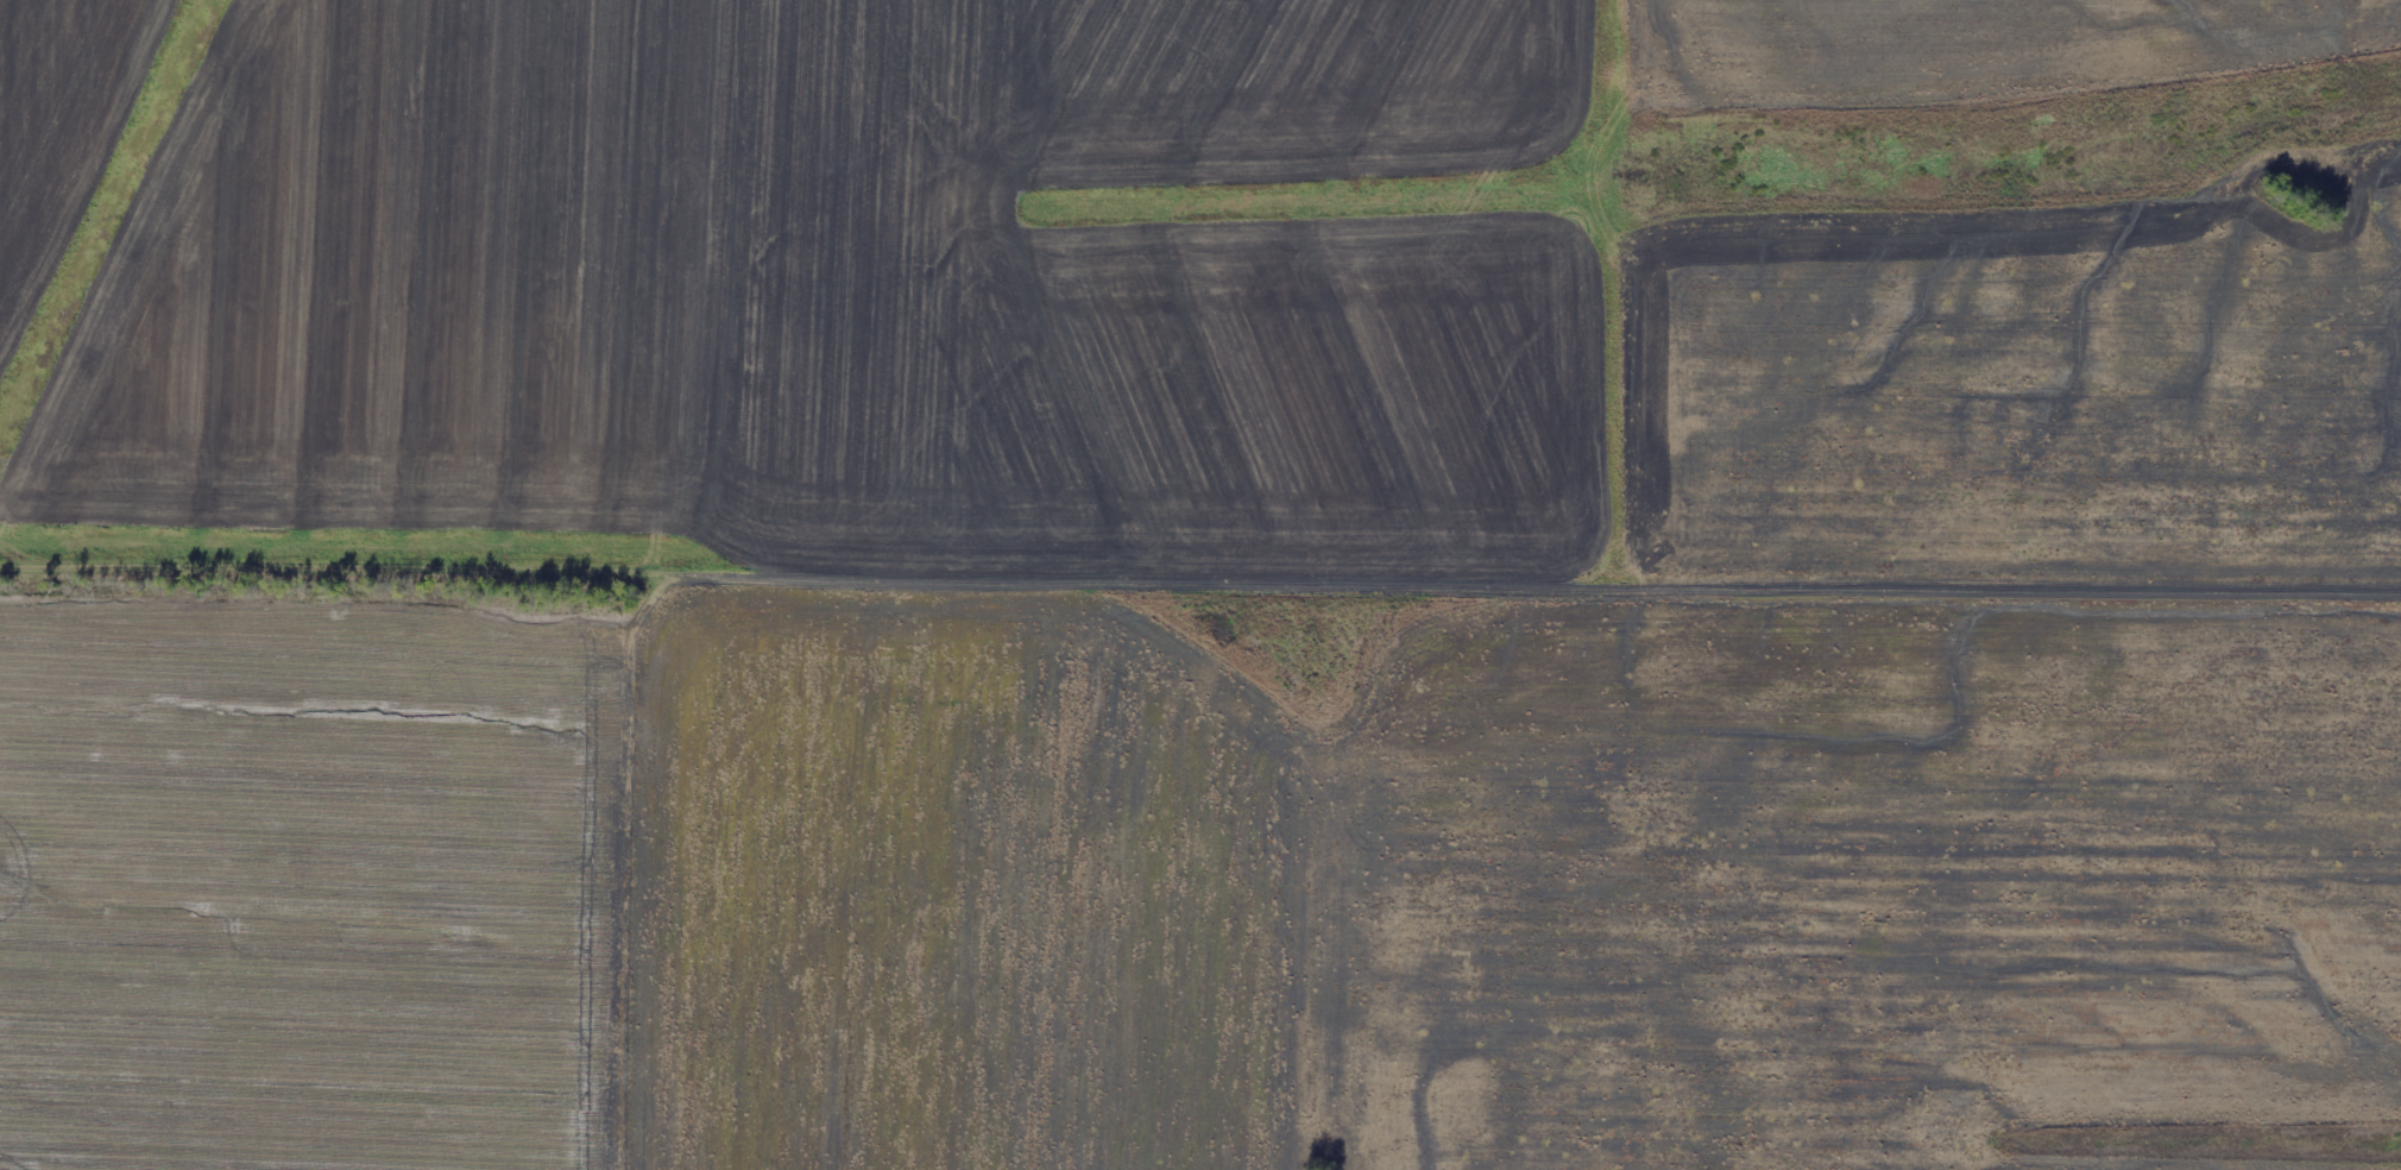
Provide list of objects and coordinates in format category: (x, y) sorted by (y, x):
road: (1199, 585)

